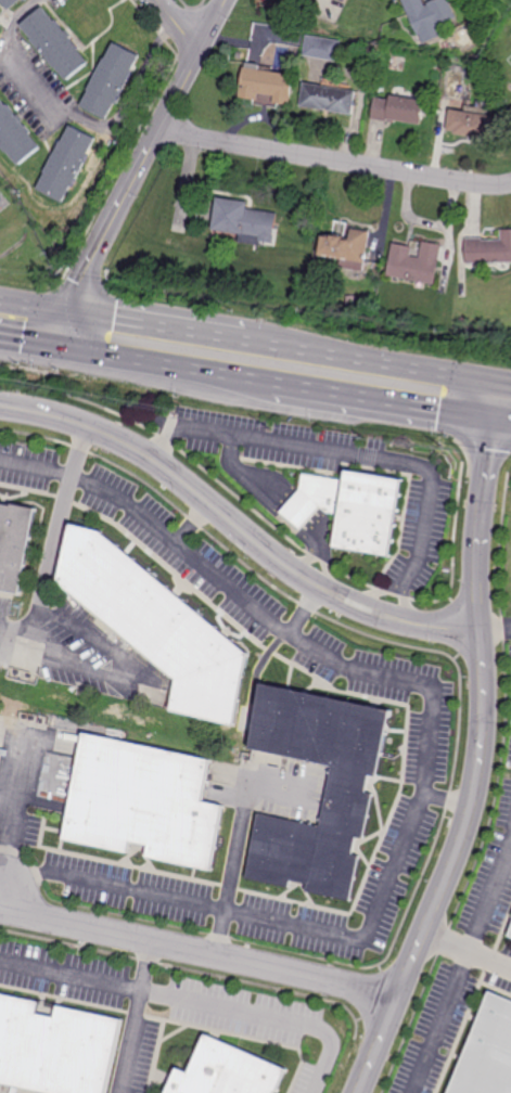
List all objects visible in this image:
building: (345, 1)
building: (10, 3)
building: (4, 16)
building: (427, 18)
building: (0, 23)
road: (179, 25)
road: (214, 25)
building: (54, 42)
building: (260, 46)
building: (322, 48)
building: (111, 80)
building: (266, 85)
building: (329, 99)
building: (510, 108)
building: (399, 110)
building: (510, 112)
road: (78, 119)
building: (472, 124)
building: (117, 133)
building: (15, 134)
road: (334, 160)
building: (67, 164)
road: (125, 196)
building: (242, 221)
building: (345, 246)
building: (488, 249)
building: (414, 263)
traffic signals: (65, 313)
road: (230, 343)
traffic signals: (58, 346)
road: (229, 375)
road: (477, 390)
traffic signals: (493, 399)
road: (501, 400)
road: (475, 407)
road: (340, 452)
road: (251, 475)
parking lot: (335, 477)
road: (187, 483)
building: (353, 510)
road: (299, 514)
road: (318, 533)
building: (14, 544)
road: (53, 553)
road: (303, 558)
road: (323, 568)
road: (376, 592)
road: (407, 604)
road: (381, 616)
building: (158, 626)
road: (496, 630)
road: (445, 632)
road: (124, 670)
road: (482, 757)
road: (426, 759)
building: (348, 793)
building: (142, 800)
road: (448, 800)
road: (15, 814)
road: (238, 840)
road: (490, 896)
building: (510, 936)
road: (193, 955)
road: (490, 956)
road: (68, 977)
road: (450, 999)
road: (261, 1017)
road: (130, 1018)
building: (54, 1046)
building: (487, 1053)
building: (226, 1071)

